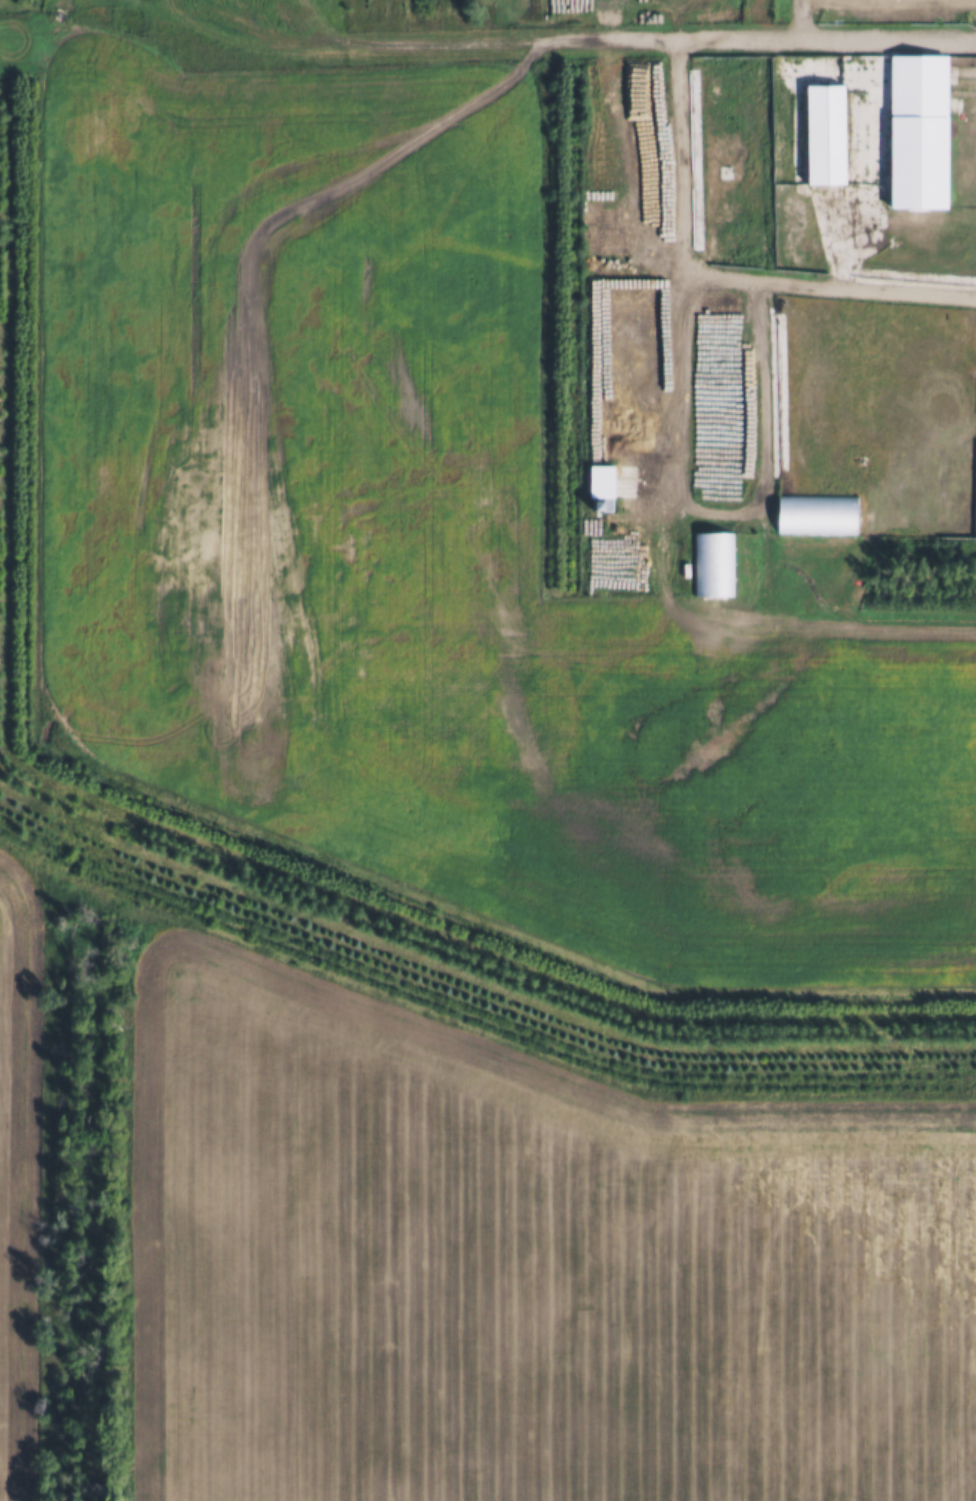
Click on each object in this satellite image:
building: (921, 113)
building: (822, 149)
building: (817, 515)
building: (713, 565)

